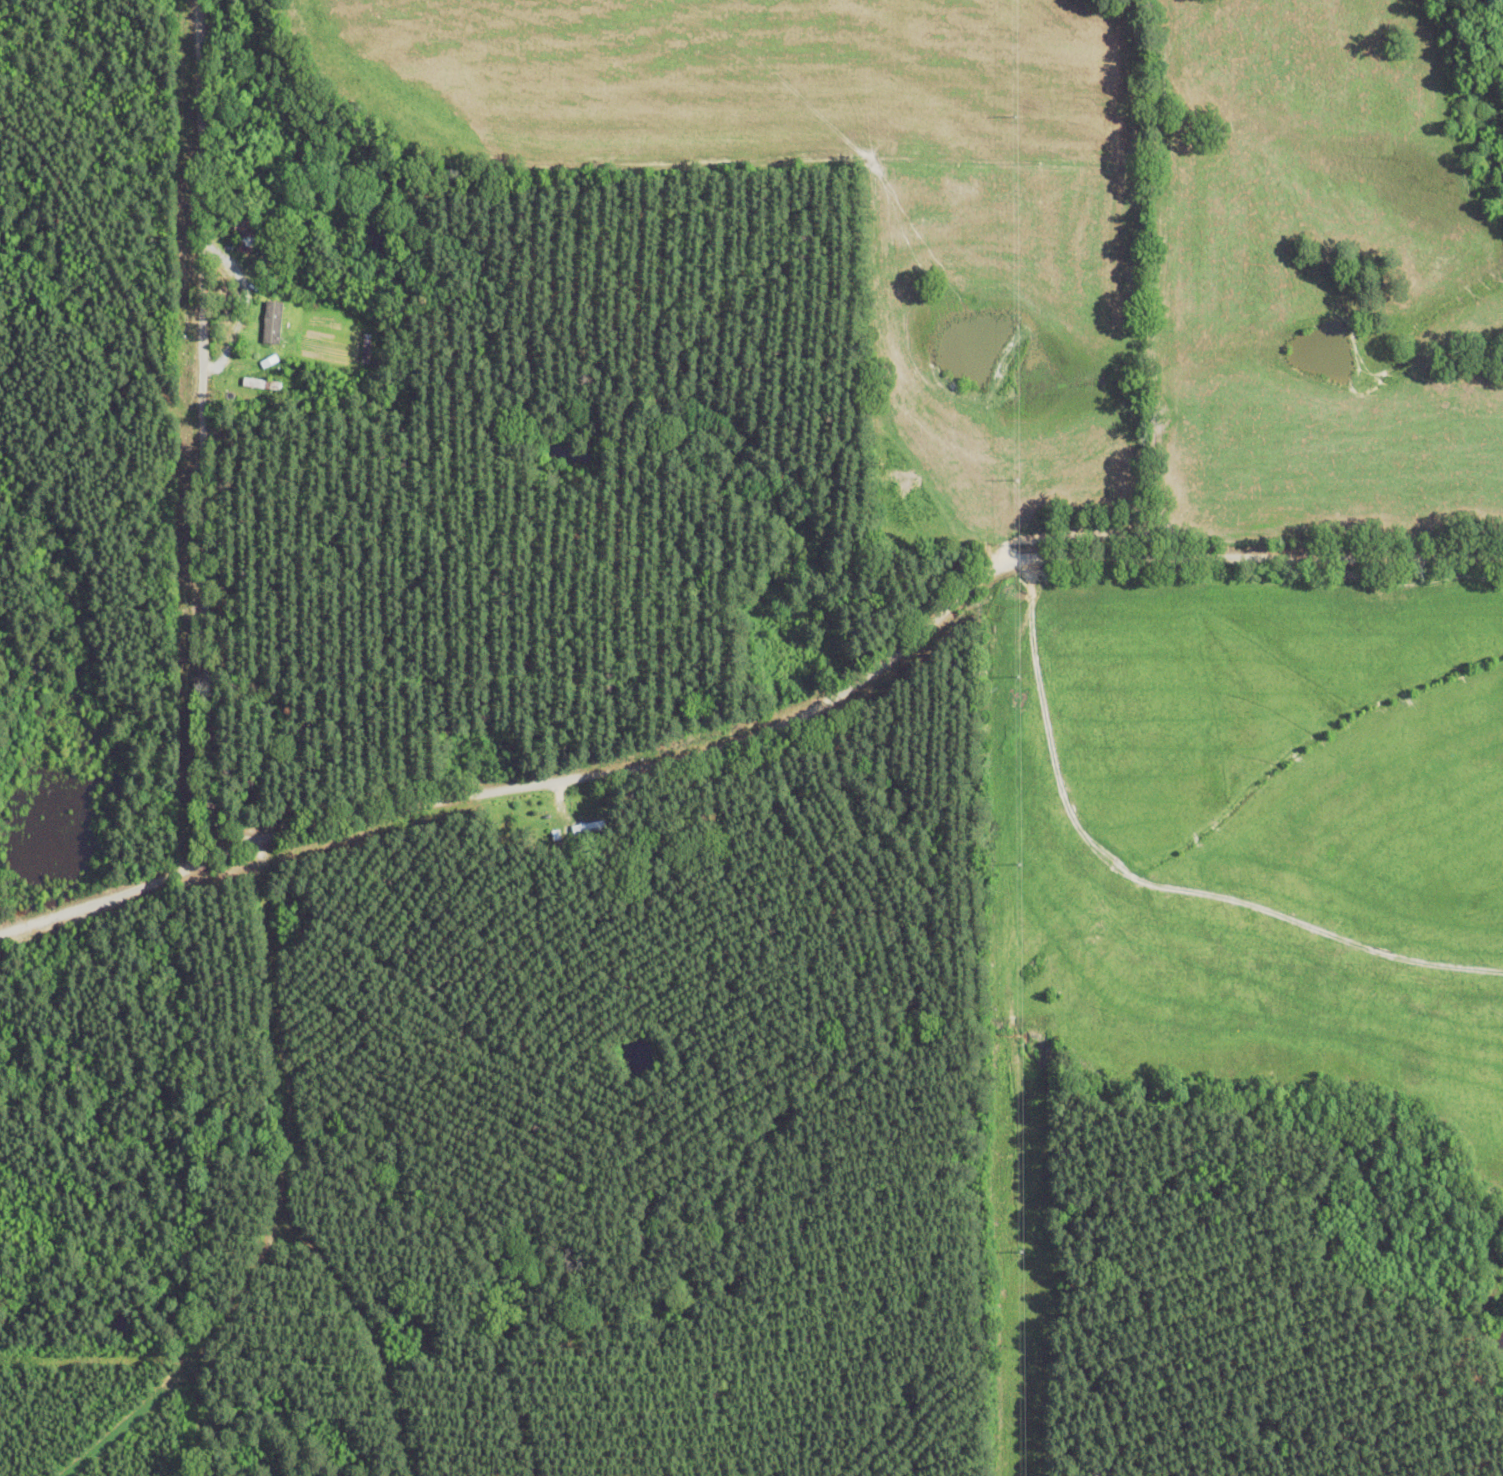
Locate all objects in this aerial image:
building: (244, 231)
building: (270, 321)
road: (201, 426)
road: (764, 730)
building: (588, 829)

